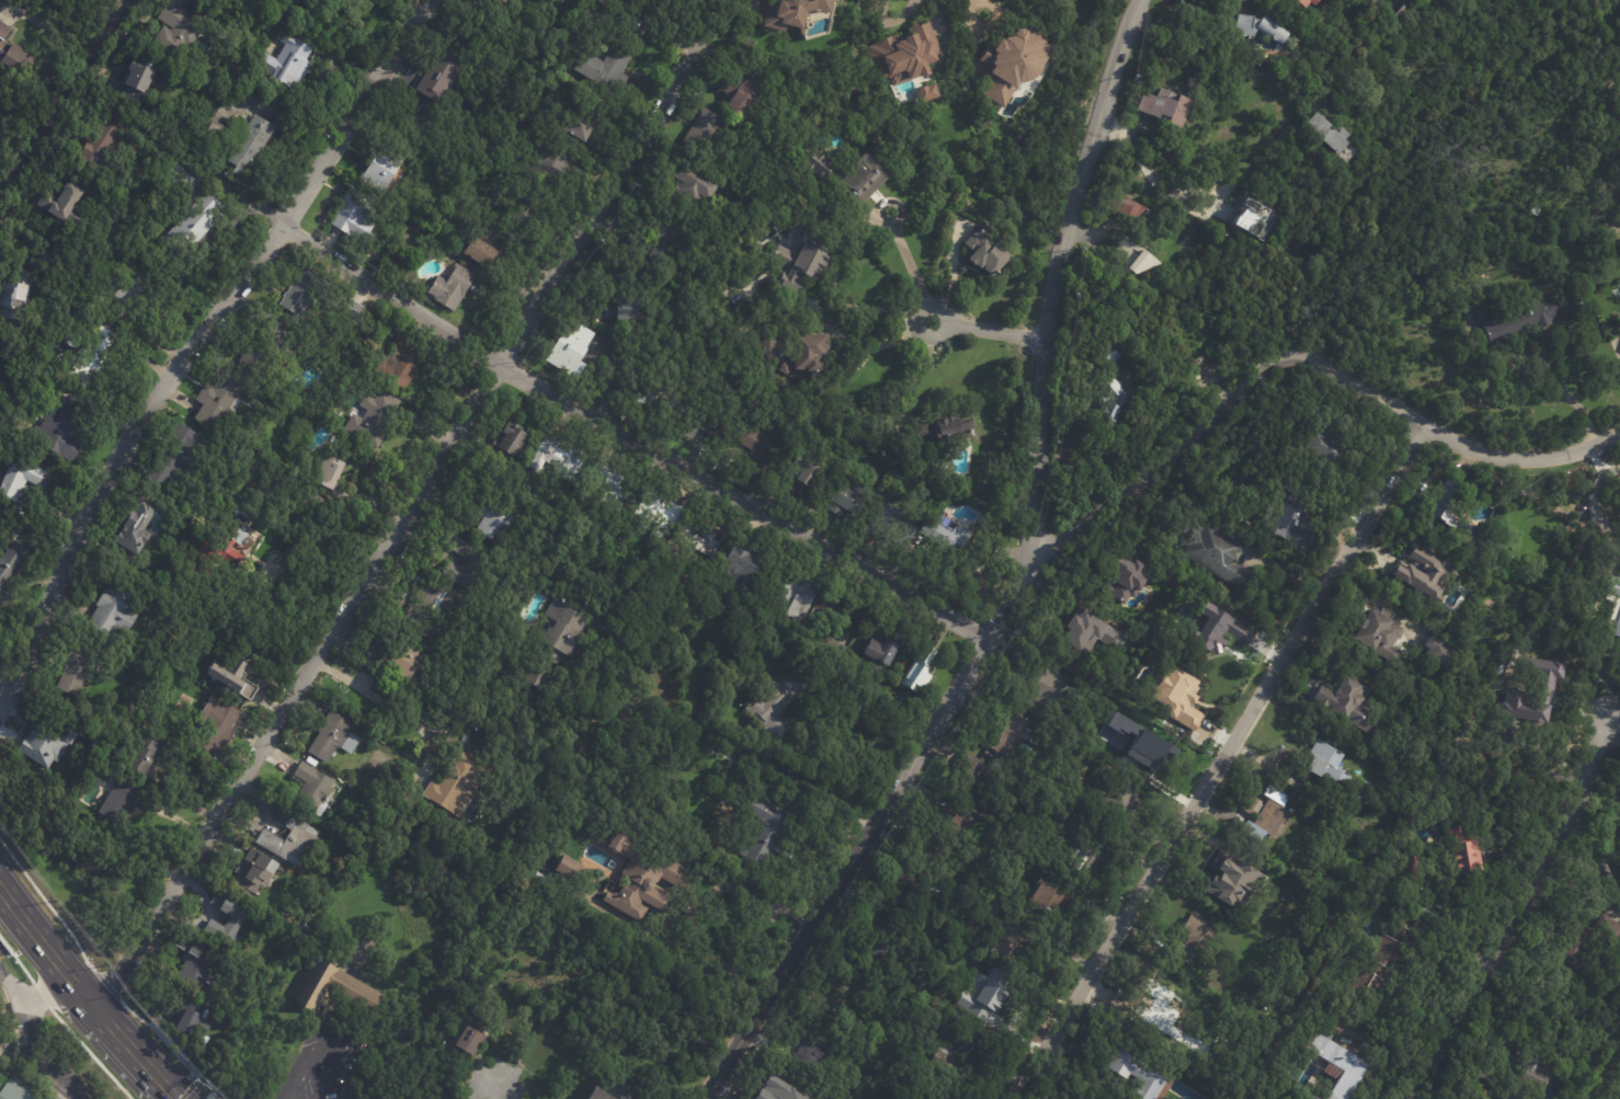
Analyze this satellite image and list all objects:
building: (217, 1)
building: (504, 2)
building: (315, 3)
building: (1303, 3)
road: (973, 7)
building: (1395, 10)
building: (789, 12)
road: (894, 21)
building: (1257, 28)
building: (176, 31)
road: (1205, 47)
building: (902, 51)
building: (12, 53)
building: (289, 61)
building: (1006, 64)
building: (607, 72)
building: (443, 76)
building: (138, 81)
building: (744, 90)
building: (921, 91)
road: (64, 94)
building: (1157, 108)
building: (241, 123)
building: (216, 129)
building: (704, 130)
building: (586, 133)
building: (1319, 134)
building: (105, 146)
building: (251, 146)
building: (552, 164)
building: (386, 168)
building: (848, 176)
road: (1152, 181)
building: (696, 192)
building: (65, 206)
building: (192, 210)
building: (1128, 210)
building: (1531, 211)
building: (170, 213)
building: (358, 217)
building: (533, 220)
building: (1244, 225)
building: (669, 240)
building: (487, 249)
building: (983, 251)
building: (1292, 253)
building: (1129, 257)
building: (46, 260)
building: (450, 261)
building: (801, 264)
road: (909, 266)
road: (1052, 268)
road: (952, 273)
building: (725, 275)
building: (454, 289)
building: (303, 294)
building: (128, 295)
building: (16, 297)
road: (868, 307)
building: (356, 313)
building: (628, 314)
building: (1519, 317)
road: (986, 330)
road: (196, 341)
road: (885, 341)
building: (773, 347)
building: (263, 351)
building: (573, 351)
building: (814, 354)
building: (93, 358)
building: (1100, 359)
building: (1197, 360)
building: (401, 362)
road: (920, 368)
building: (789, 370)
building: (1111, 392)
building: (660, 399)
road: (1570, 399)
building: (220, 401)
road: (1220, 405)
building: (1104, 416)
building: (374, 420)
building: (699, 421)
building: (65, 432)
building: (945, 433)
building: (514, 437)
road: (634, 437)
building: (760, 447)
building: (1322, 448)
building: (175, 458)
building: (560, 458)
road: (1520, 458)
building: (807, 471)
building: (329, 473)
building: (20, 480)
building: (612, 485)
building: (852, 497)
road: (1598, 499)
building: (238, 506)
building: (1446, 507)
building: (660, 512)
building: (493, 517)
road: (407, 522)
building: (1292, 522)
building: (895, 527)
building: (136, 528)
building: (1476, 533)
building: (705, 537)
building: (1, 539)
building: (945, 540)
building: (1565, 541)
building: (1179, 548)
building: (220, 551)
building: (1220, 553)
building: (743, 563)
building: (468, 565)
road: (1285, 569)
building: (9, 571)
building: (1424, 572)
building: (1139, 577)
building: (1618, 577)
building: (980, 580)
building: (1122, 581)
building: (1612, 587)
building: (796, 594)
building: (433, 604)
building: (1609, 607)
building: (115, 608)
building: (837, 609)
building: (621, 617)
building: (1216, 623)
building: (1618, 626)
building: (566, 630)
building: (1377, 636)
building: (1081, 644)
building: (882, 649)
building: (1434, 650)
building: (403, 662)
building: (78, 664)
building: (923, 668)
building: (1367, 673)
building: (538, 675)
building: (232, 679)
building: (1040, 683)
building: (1171, 691)
building: (1344, 699)
building: (1516, 702)
building: (777, 703)
road: (387, 707)
building: (217, 725)
building: (1029, 735)
building: (334, 737)
building: (1011, 737)
building: (1038, 741)
building: (44, 745)
building: (145, 753)
building: (1150, 756)
road: (1220, 763)
building: (1321, 764)
road: (753, 767)
building: (973, 776)
building: (1045, 782)
building: (458, 783)
building: (313, 789)
building: (118, 798)
building: (1116, 800)
building: (1259, 813)
road: (869, 826)
building: (952, 826)
building: (765, 831)
building: (292, 842)
building: (1087, 851)
building: (90, 852)
building: (1460, 860)
building: (1619, 861)
building: (335, 866)
building: (570, 867)
building: (1410, 867)
building: (254, 872)
building: (915, 874)
building: (1222, 874)
building: (642, 879)
building: (986, 881)
building: (982, 890)
building: (1052, 894)
building: (691, 908)
road: (1520, 915)
building: (236, 921)
building: (1241, 926)
building: (1412, 927)
building: (1012, 939)
building: (1584, 939)
building: (882, 941)
building: (182, 942)
building: (1188, 942)
road: (43, 947)
road: (721, 963)
building: (198, 964)
building: (1371, 968)
road: (101, 978)
building: (921, 985)
building: (334, 988)
road: (44, 993)
building: (993, 994)
building: (843, 998)
building: (1146, 1003)
building: (194, 1019)
road: (60, 1021)
road: (330, 1035)
building: (474, 1038)
building: (204, 1042)
road: (26, 1045)
building: (812, 1049)
road: (132, 1050)
building: (954, 1053)
building: (1333, 1064)
building: (1144, 1077)
building: (1530, 1077)
building: (440, 1084)
building: (783, 1088)
building: (16, 1089)
road: (190, 1090)
building: (1618, 1091)
road: (491, 1092)
building: (601, 1095)
building: (926, 1096)
traffic signals: (173, 1097)
building: (1307, 1098)

